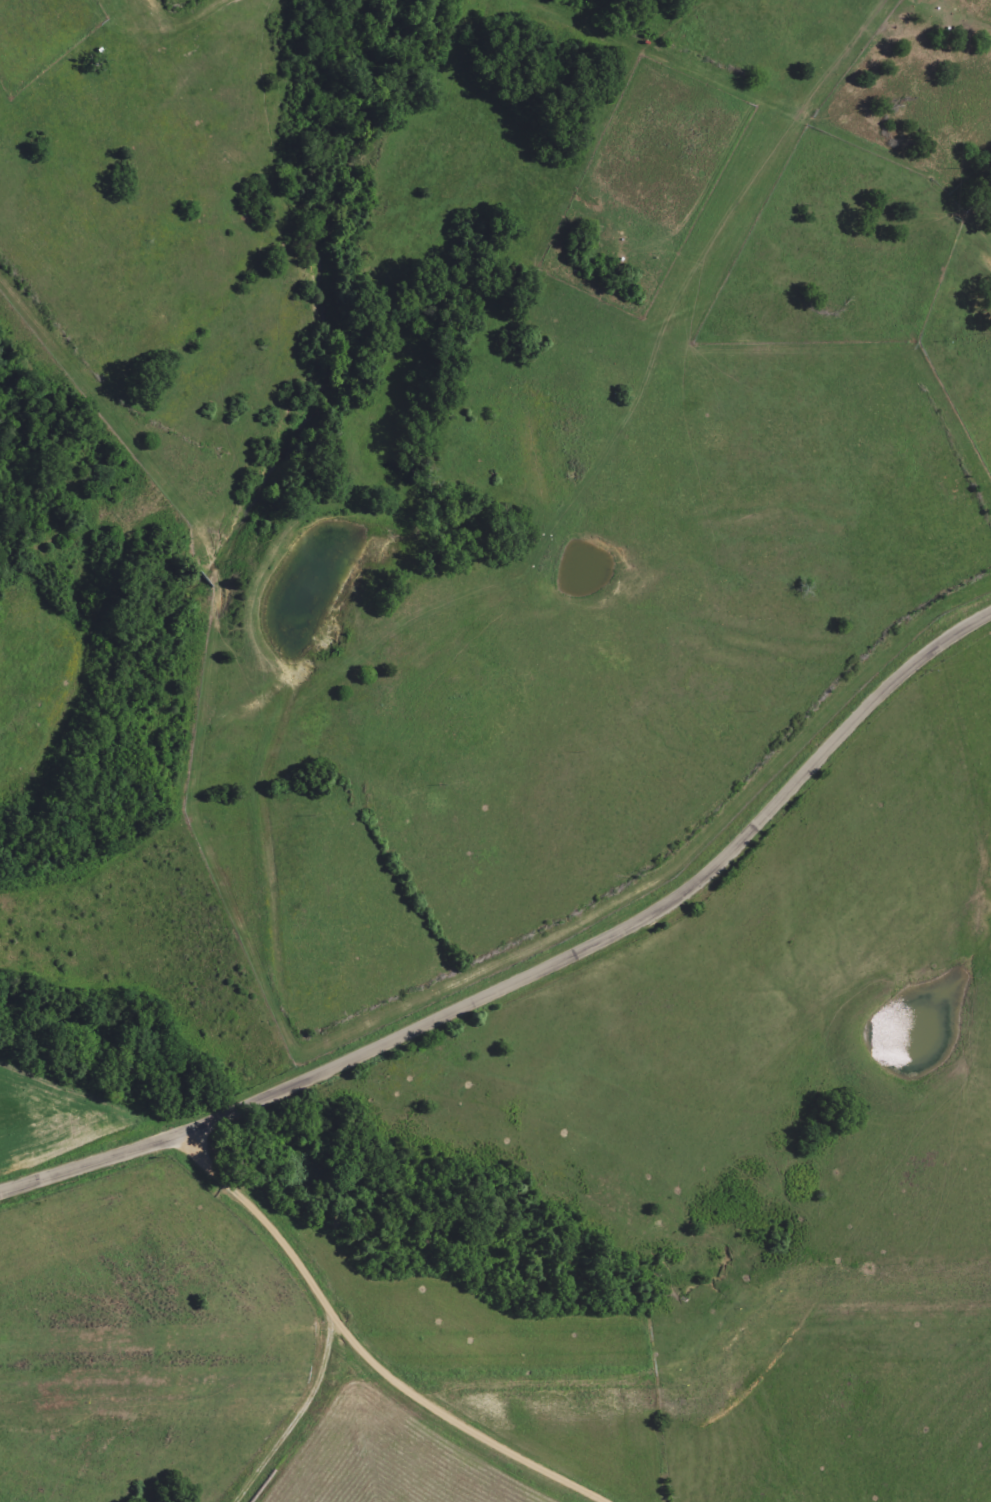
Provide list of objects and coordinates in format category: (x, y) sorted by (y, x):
road: (982, 294)
road: (538, 973)
road: (362, 1349)
road: (310, 1431)

